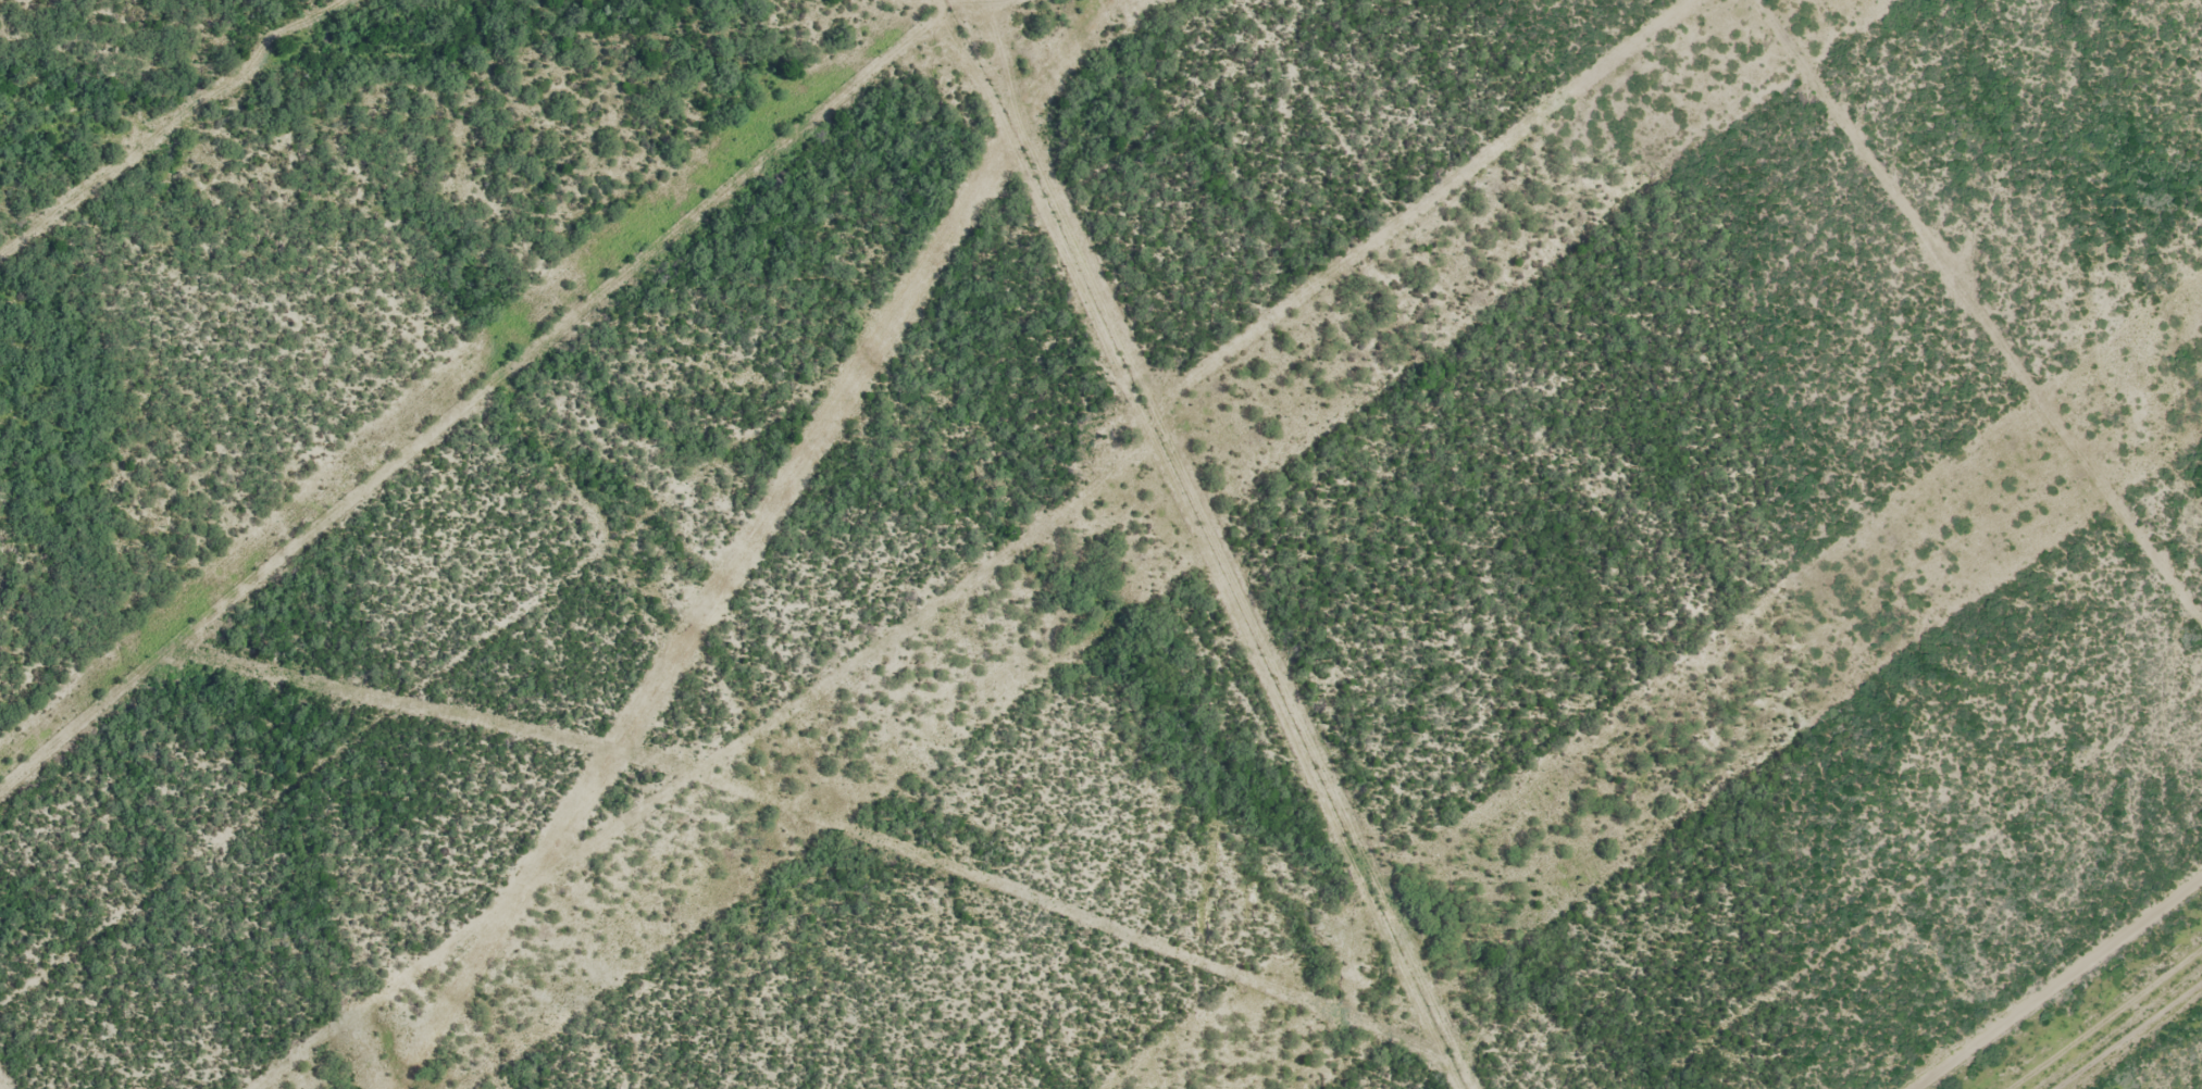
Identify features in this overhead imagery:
road: (2063, 988)
road: (2138, 1042)

